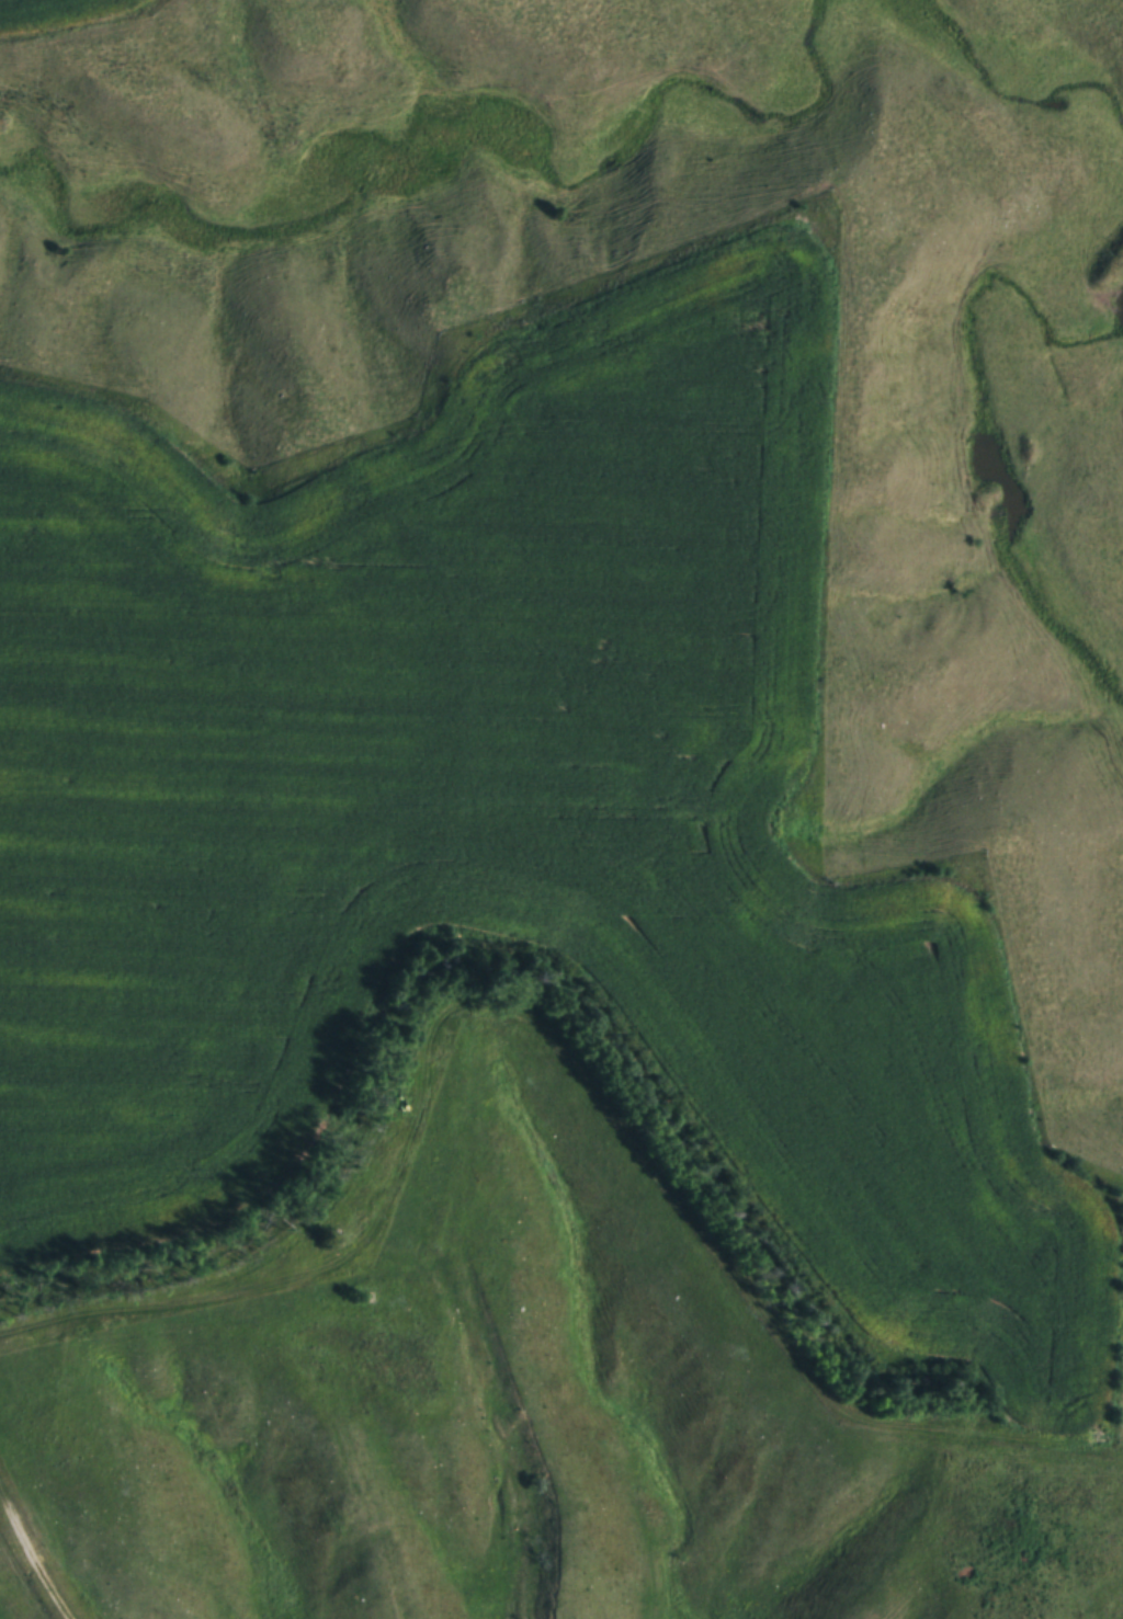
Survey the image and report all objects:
road: (32, 1548)

